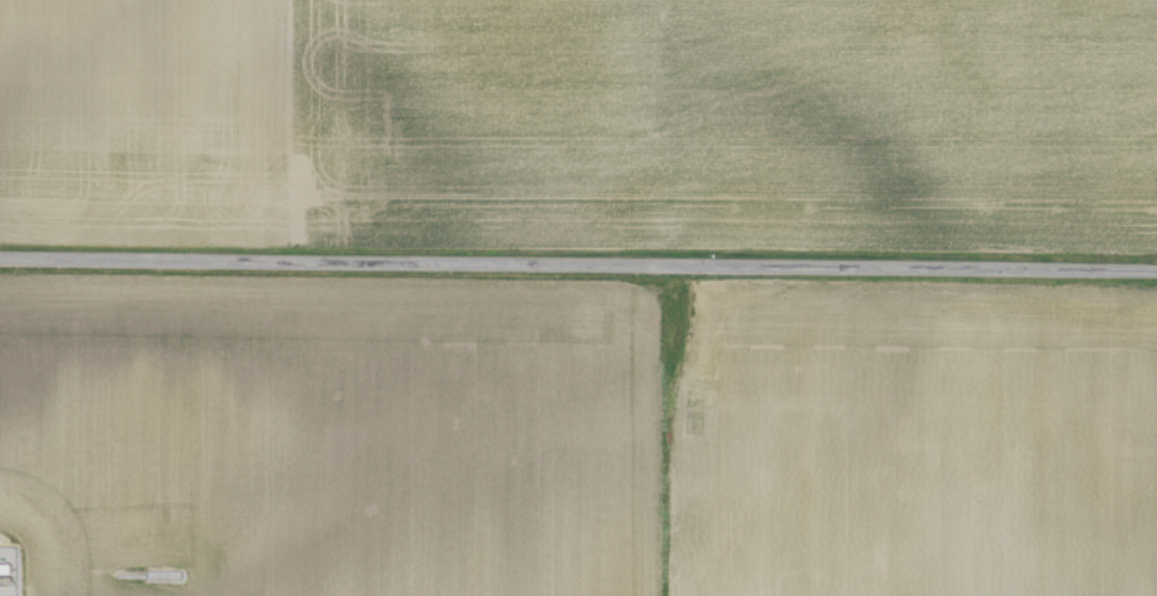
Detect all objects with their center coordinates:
road: (578, 263)

